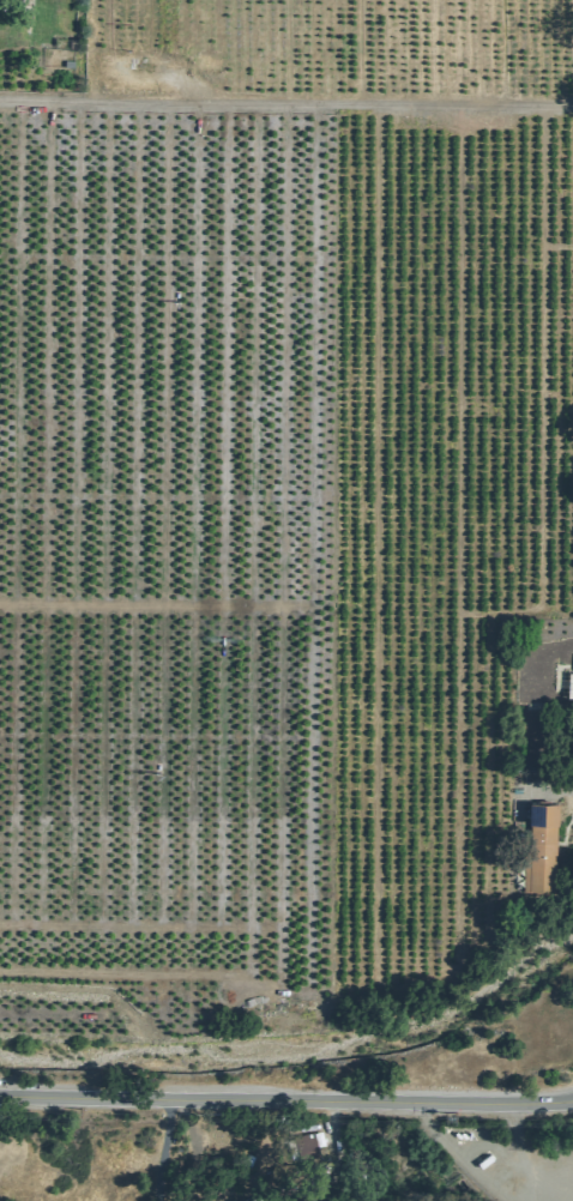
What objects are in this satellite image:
road: (285, 104)
building: (572, 686)
road: (547, 790)
building: (537, 847)
road: (286, 1103)
road: (168, 1152)

